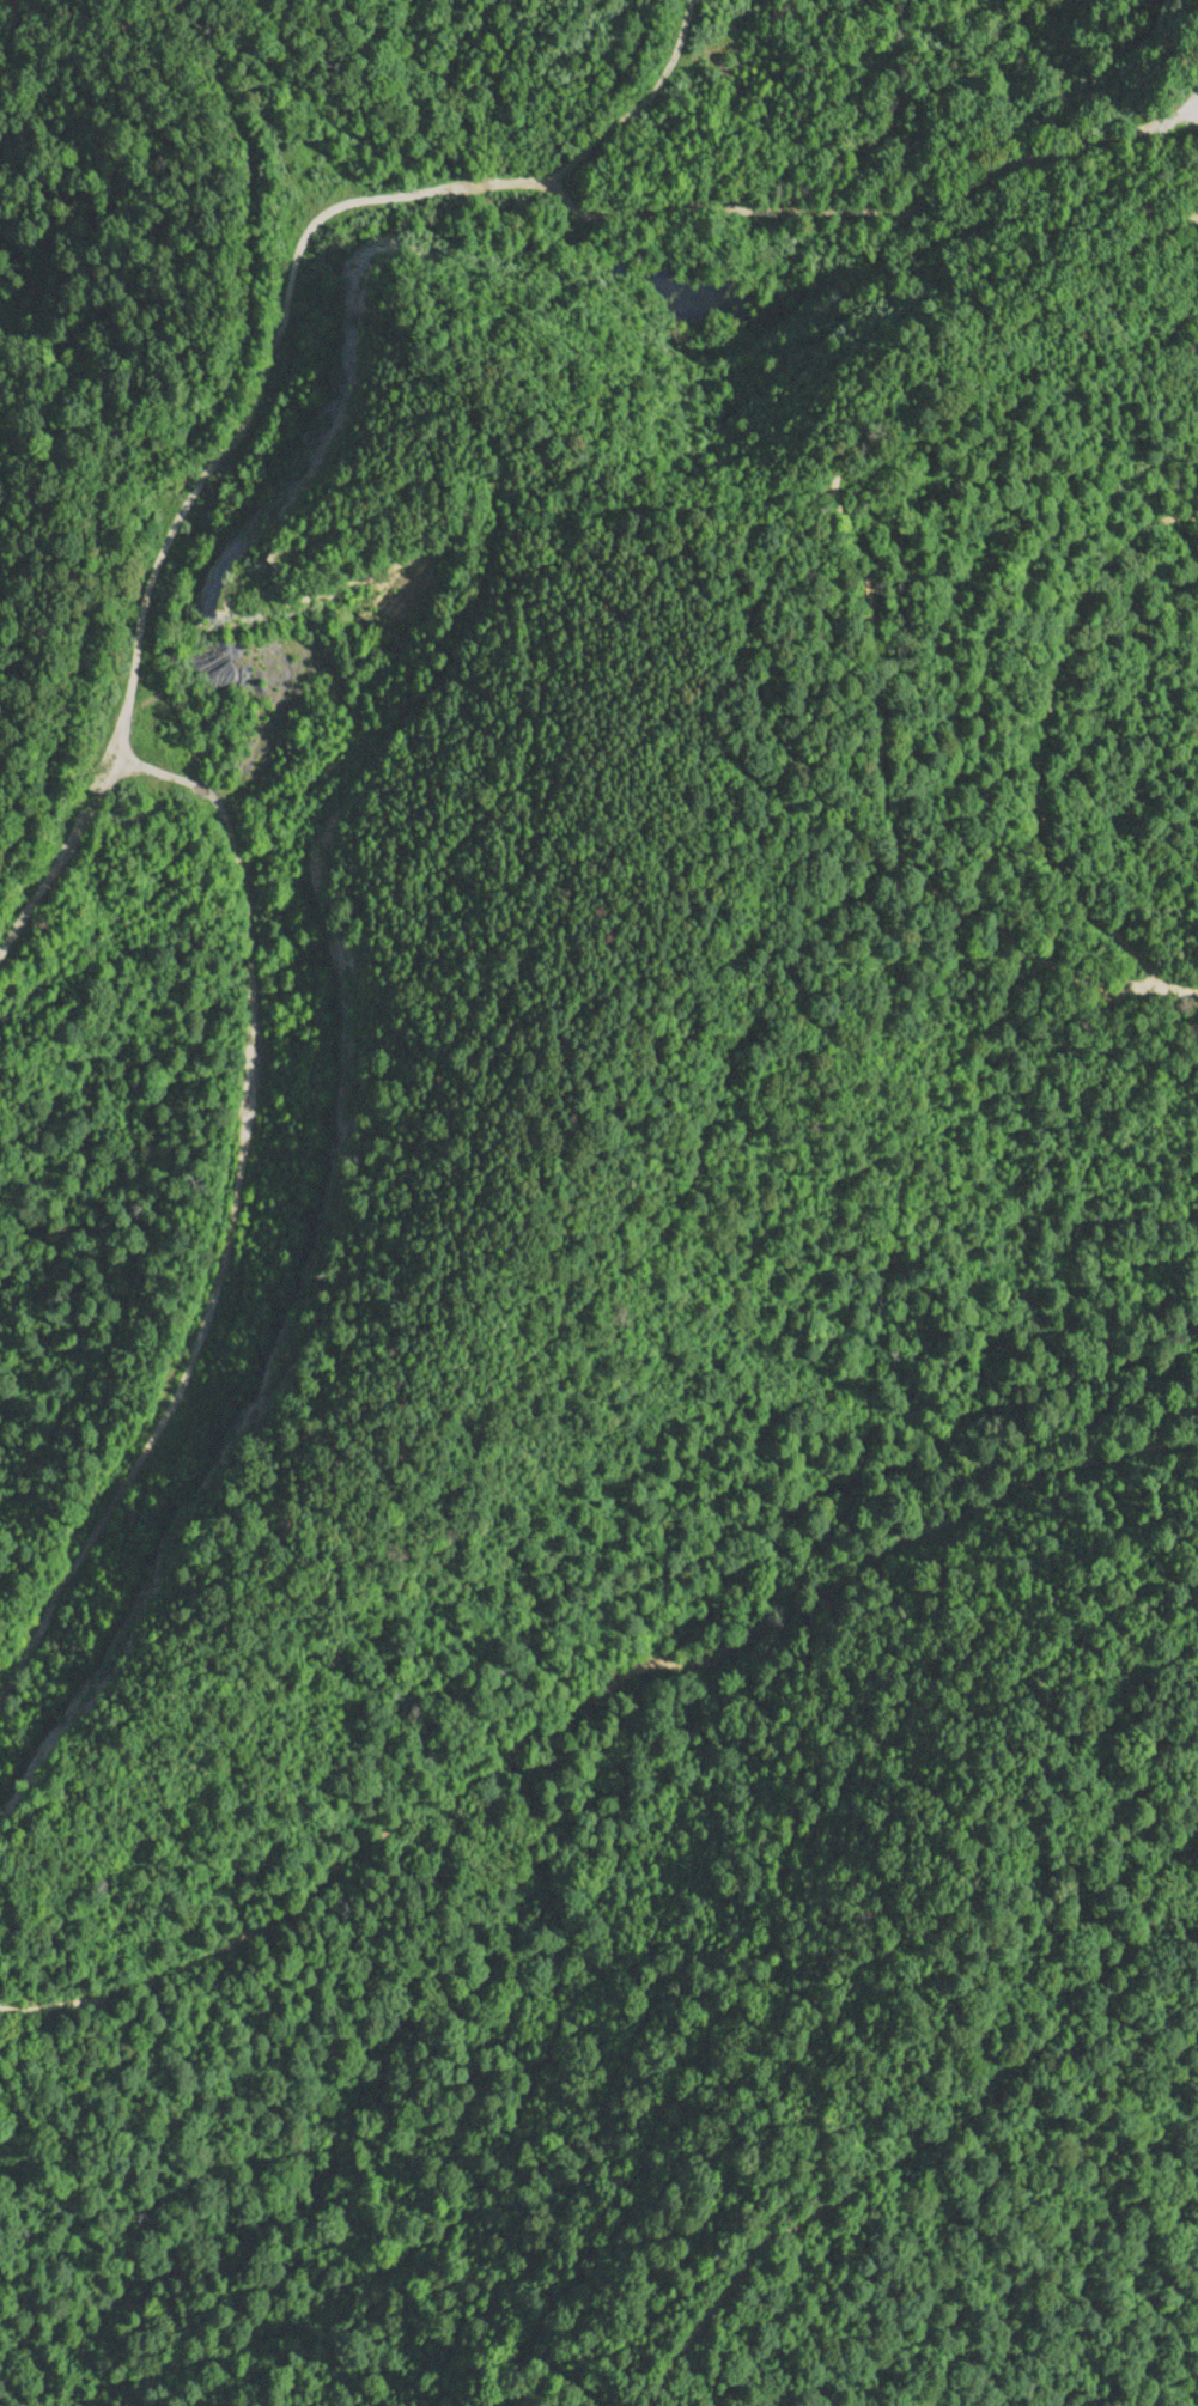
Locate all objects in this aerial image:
road: (872, 2304)

